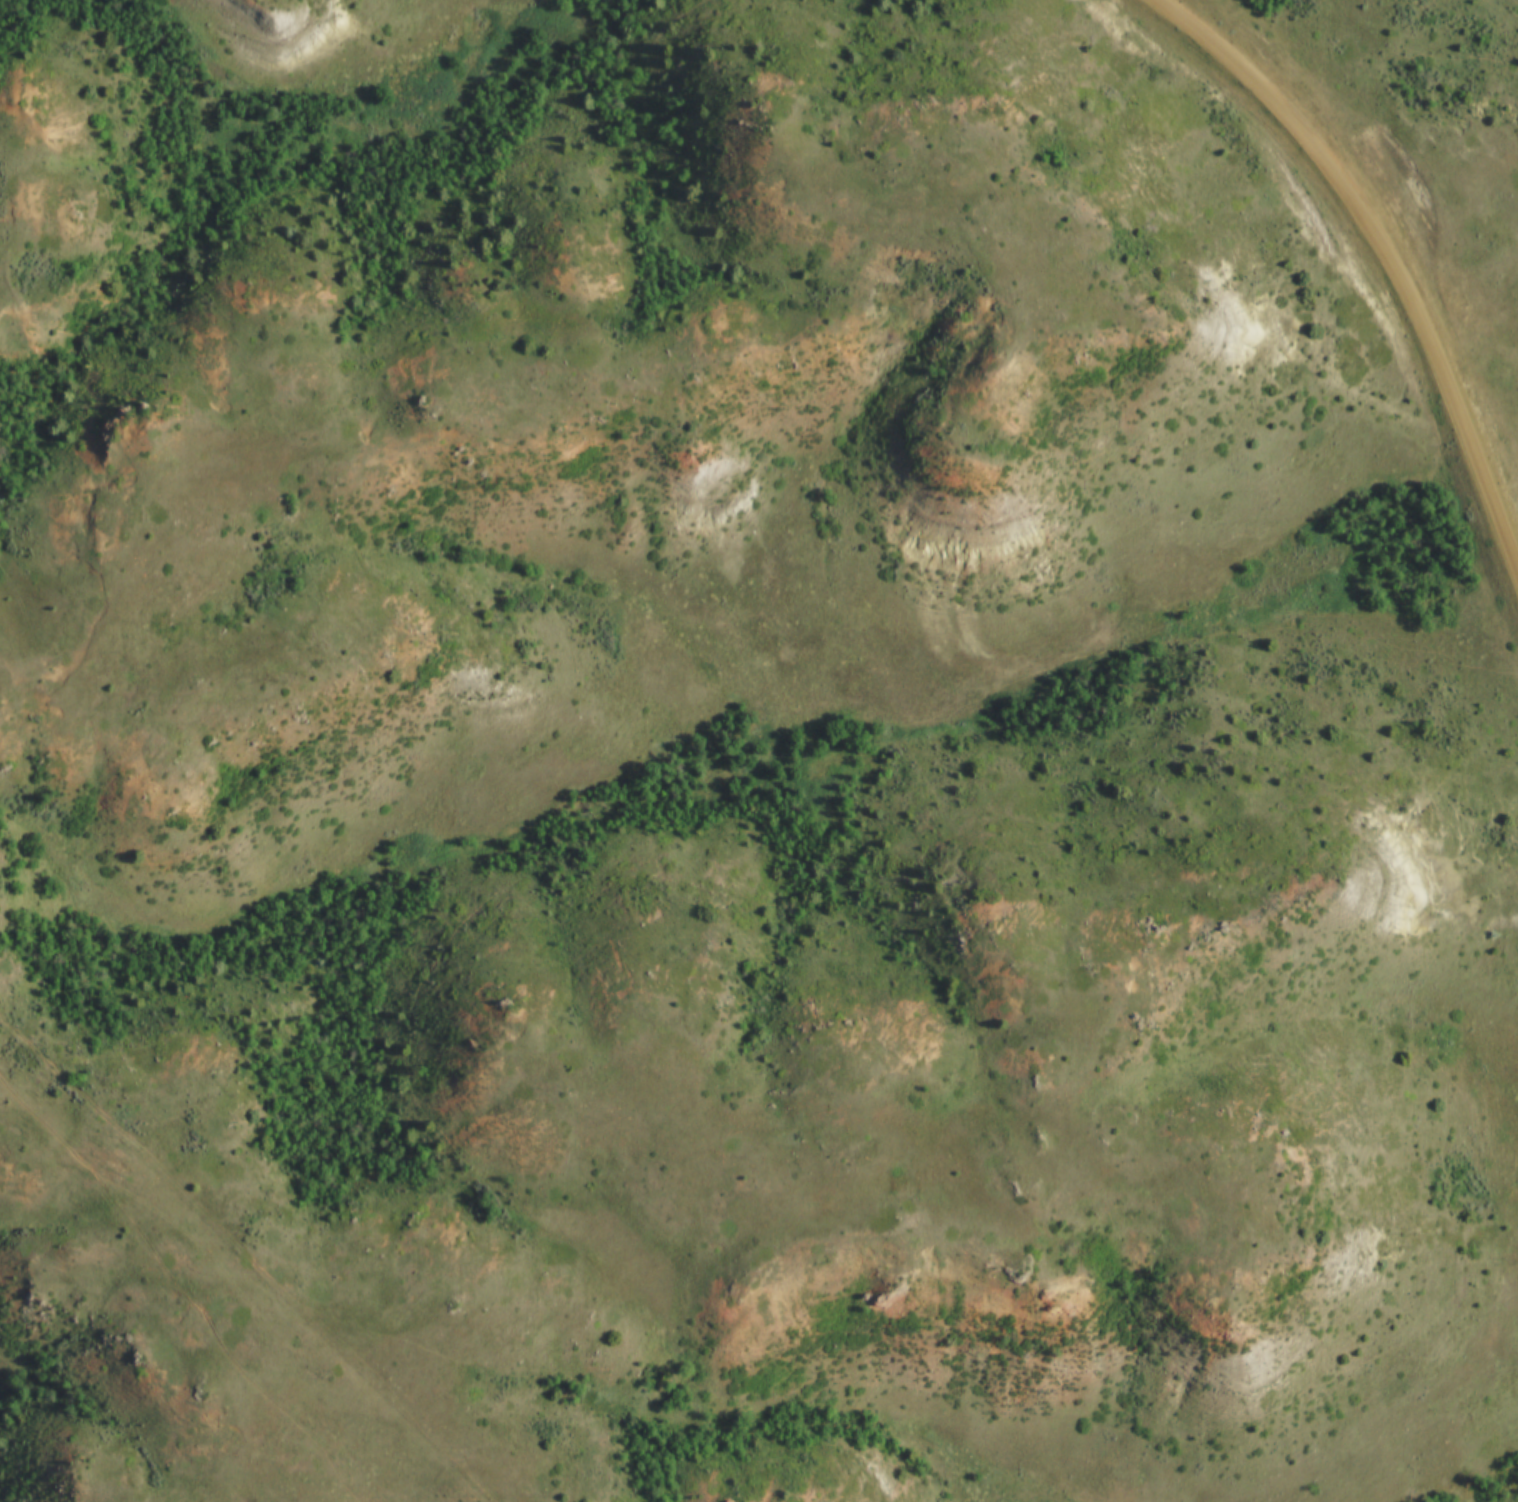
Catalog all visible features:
road: (1387, 253)

